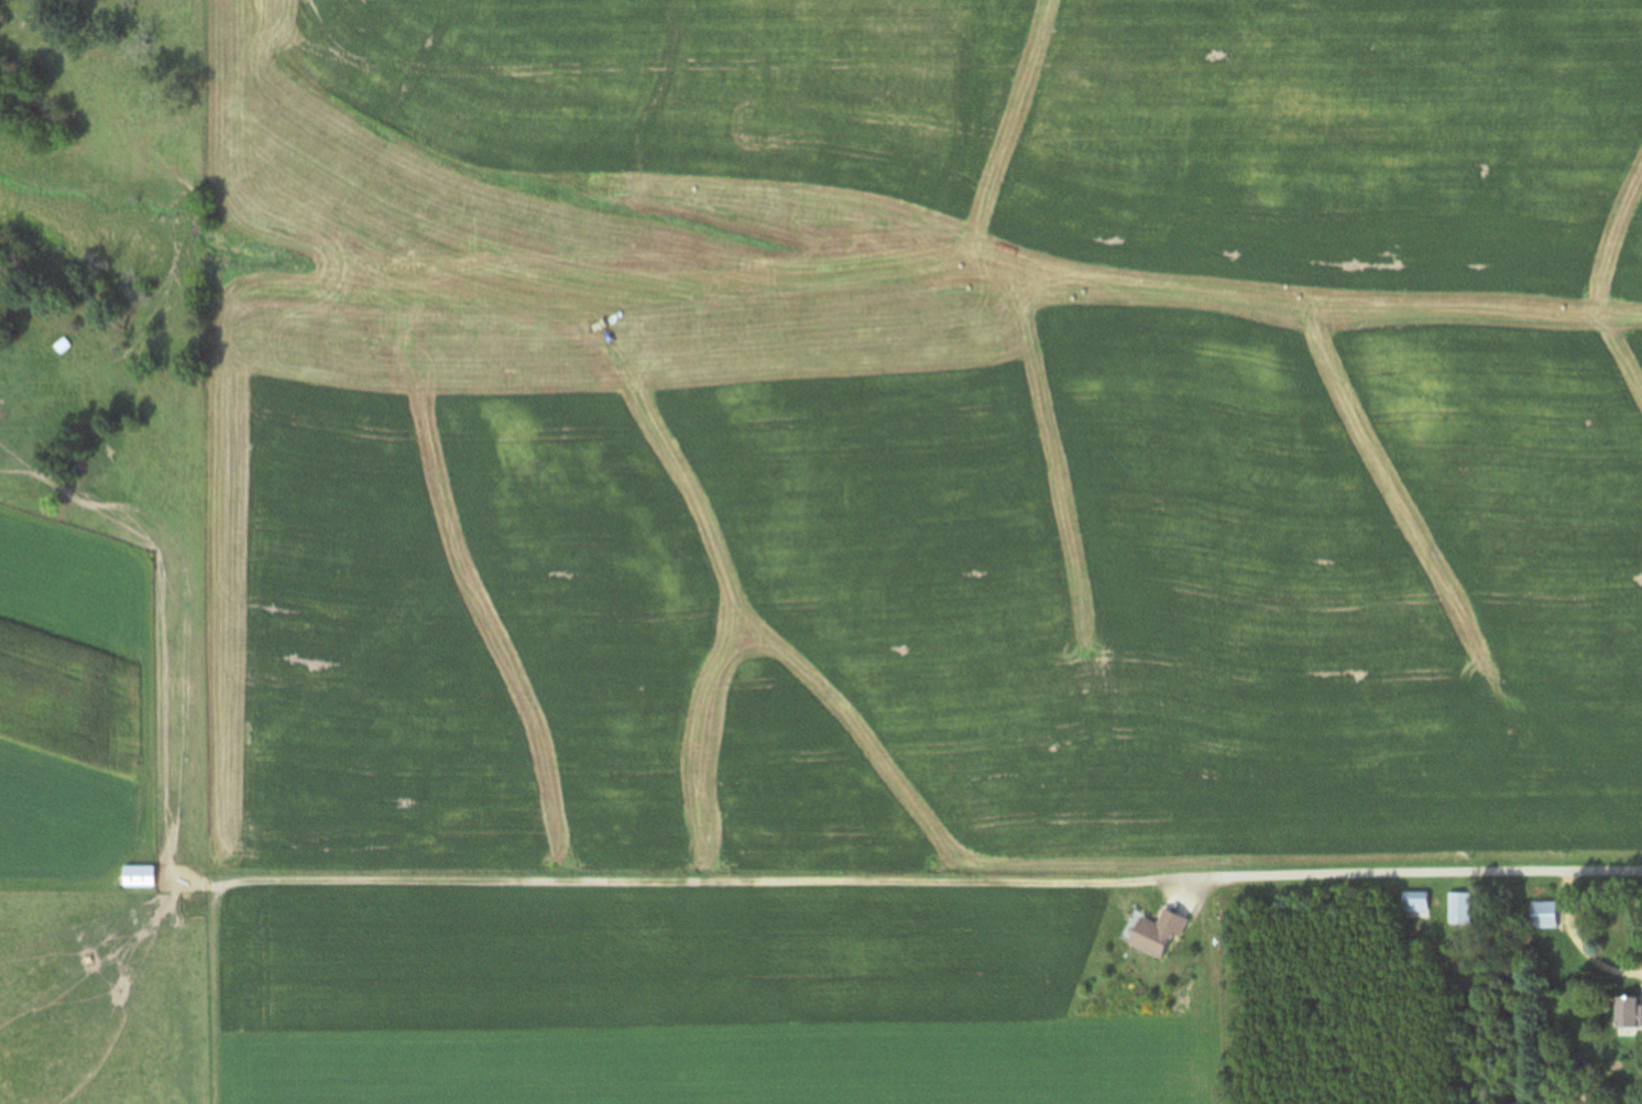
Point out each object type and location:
building: (138, 876)
road: (1409, 877)
building: (1416, 905)
building: (1460, 909)
building: (1544, 915)
building: (1153, 932)
building: (1628, 1015)

